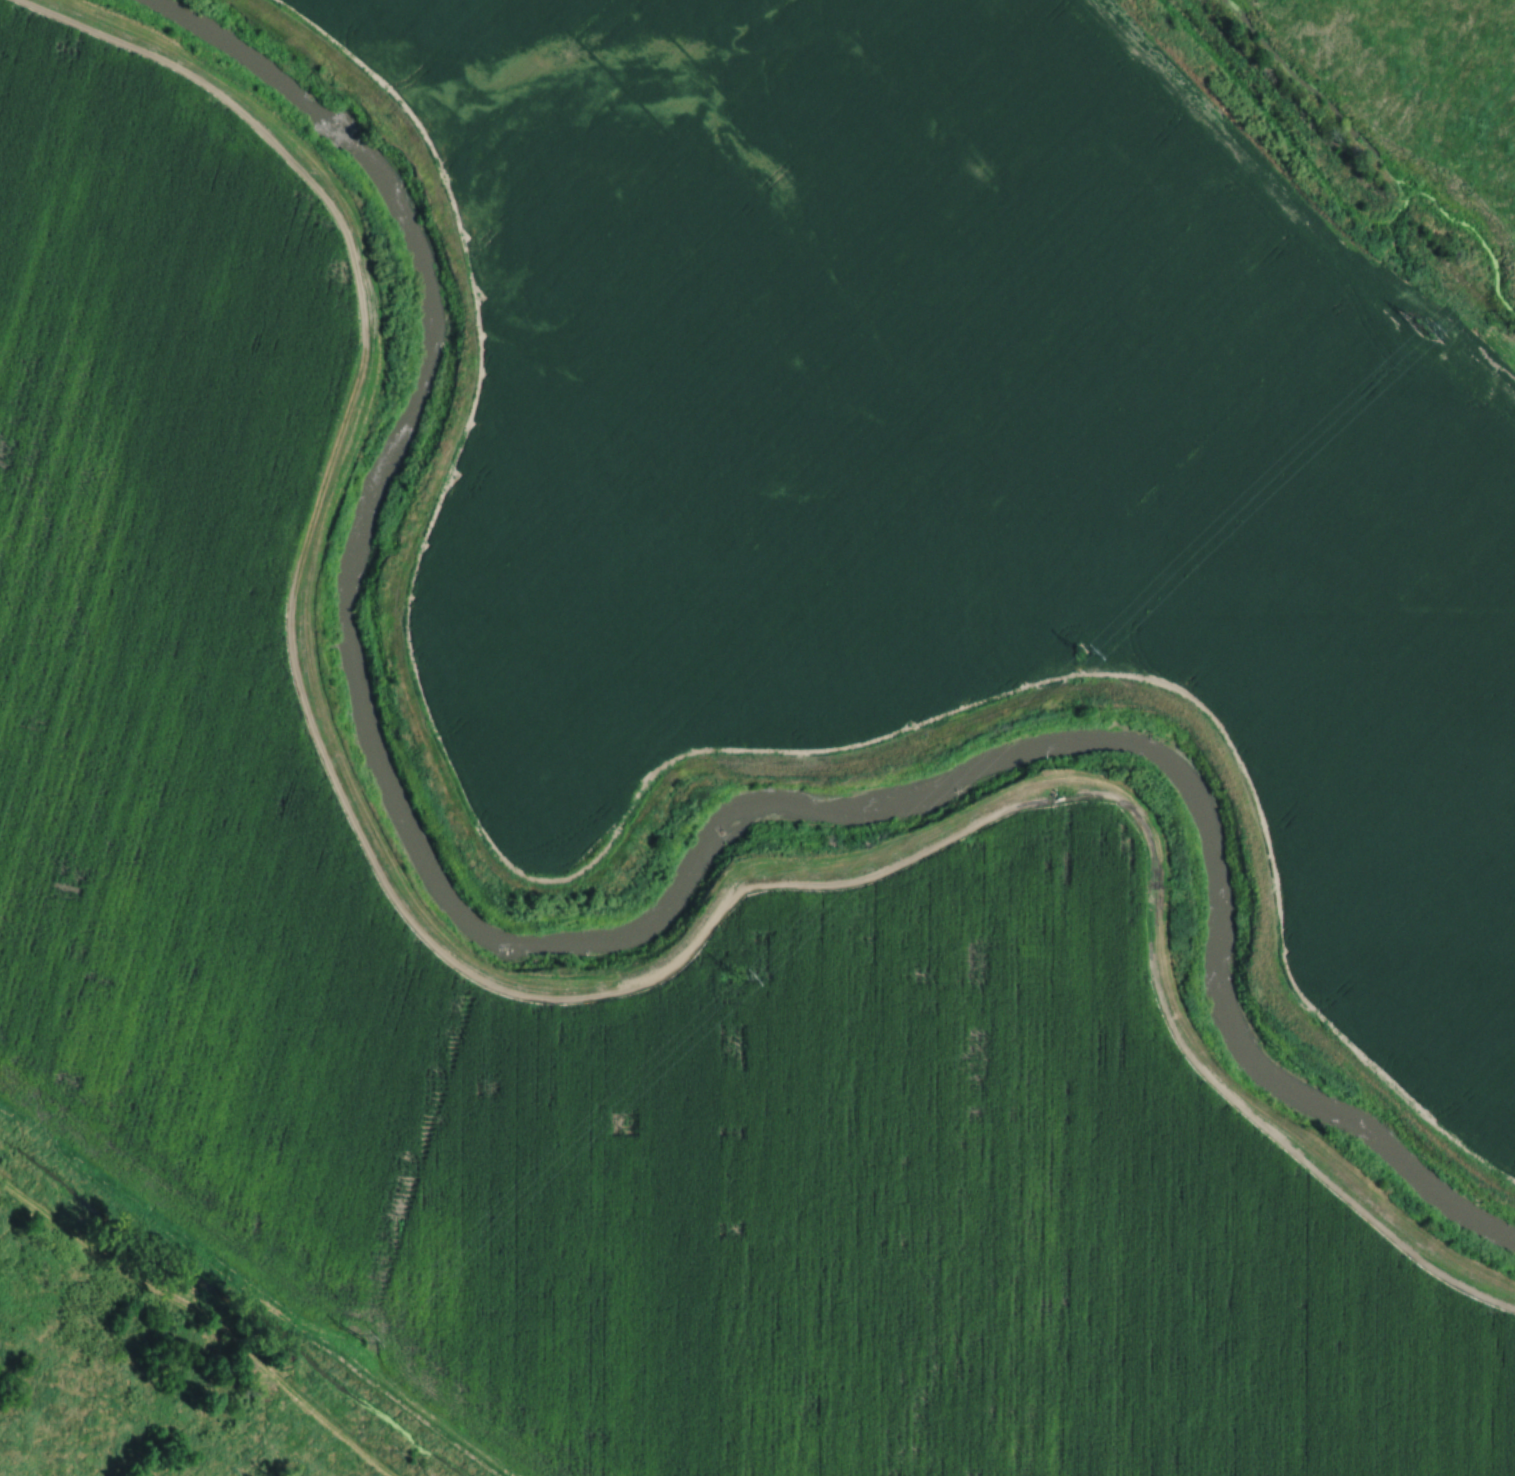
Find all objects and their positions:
river: (1361, 158)
power tower: (1413, 311)
power tower: (1080, 647)
river: (642, 923)
power tower: (743, 967)
power tower: (361, 1341)

